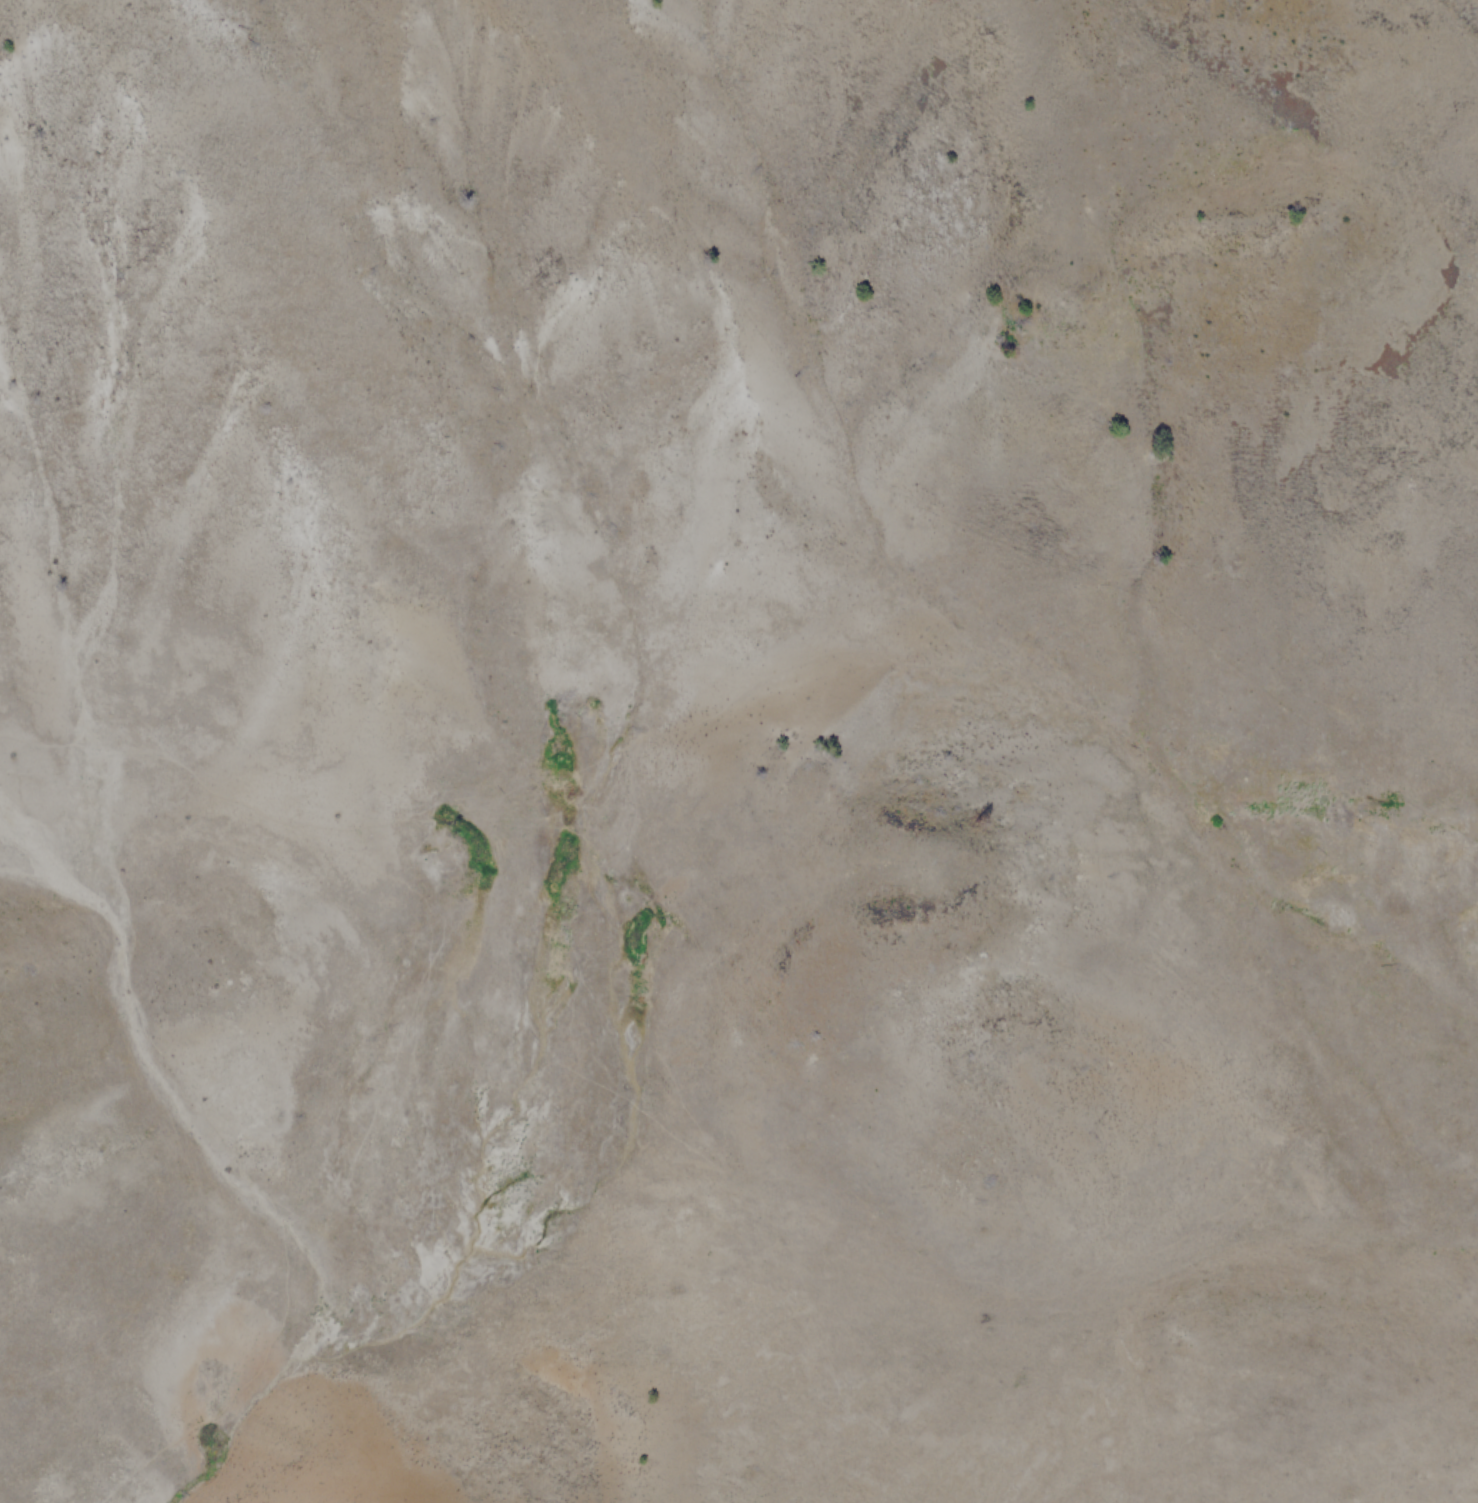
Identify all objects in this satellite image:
road: (408, 1032)

